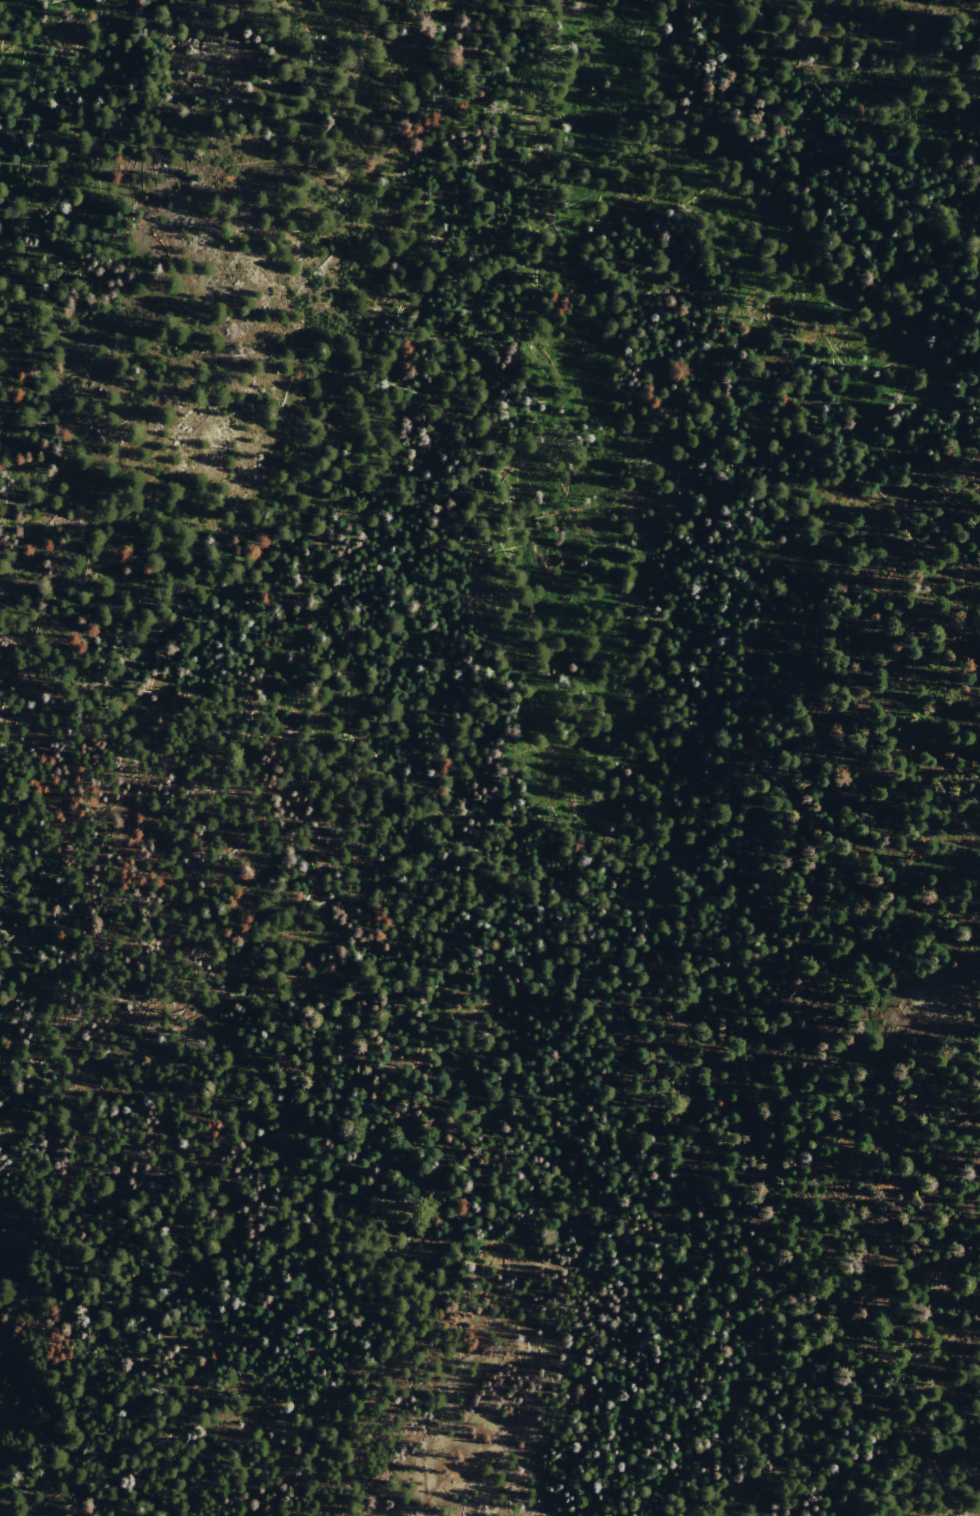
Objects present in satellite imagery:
road: (37, 213)

